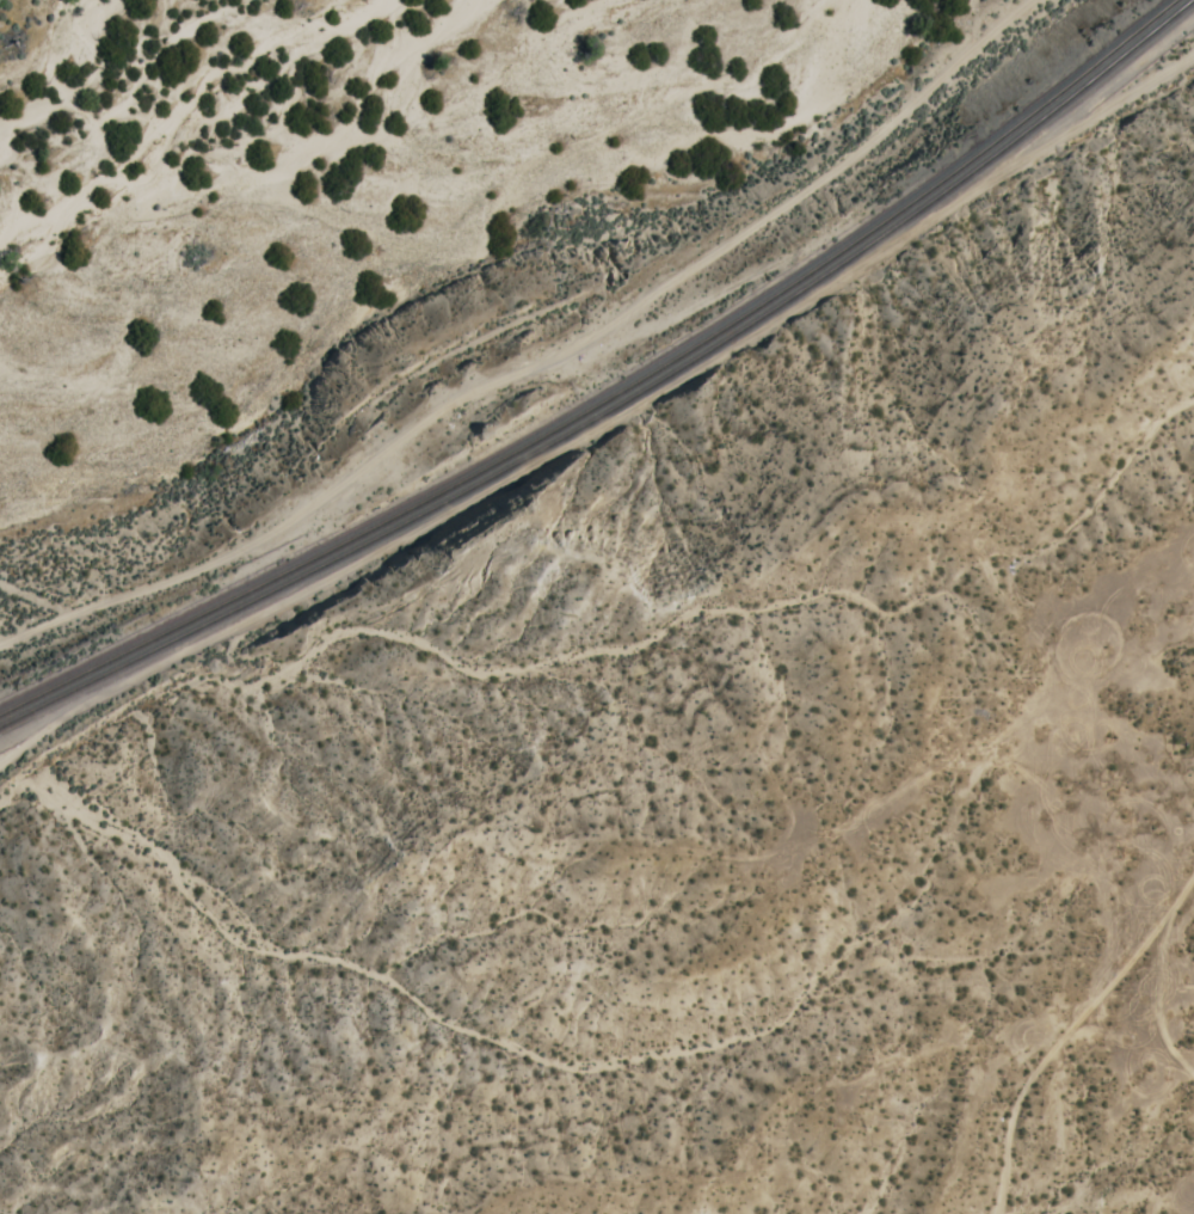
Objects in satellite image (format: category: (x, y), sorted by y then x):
road: (538, 366)
railway: (611, 397)
railway: (620, 403)

